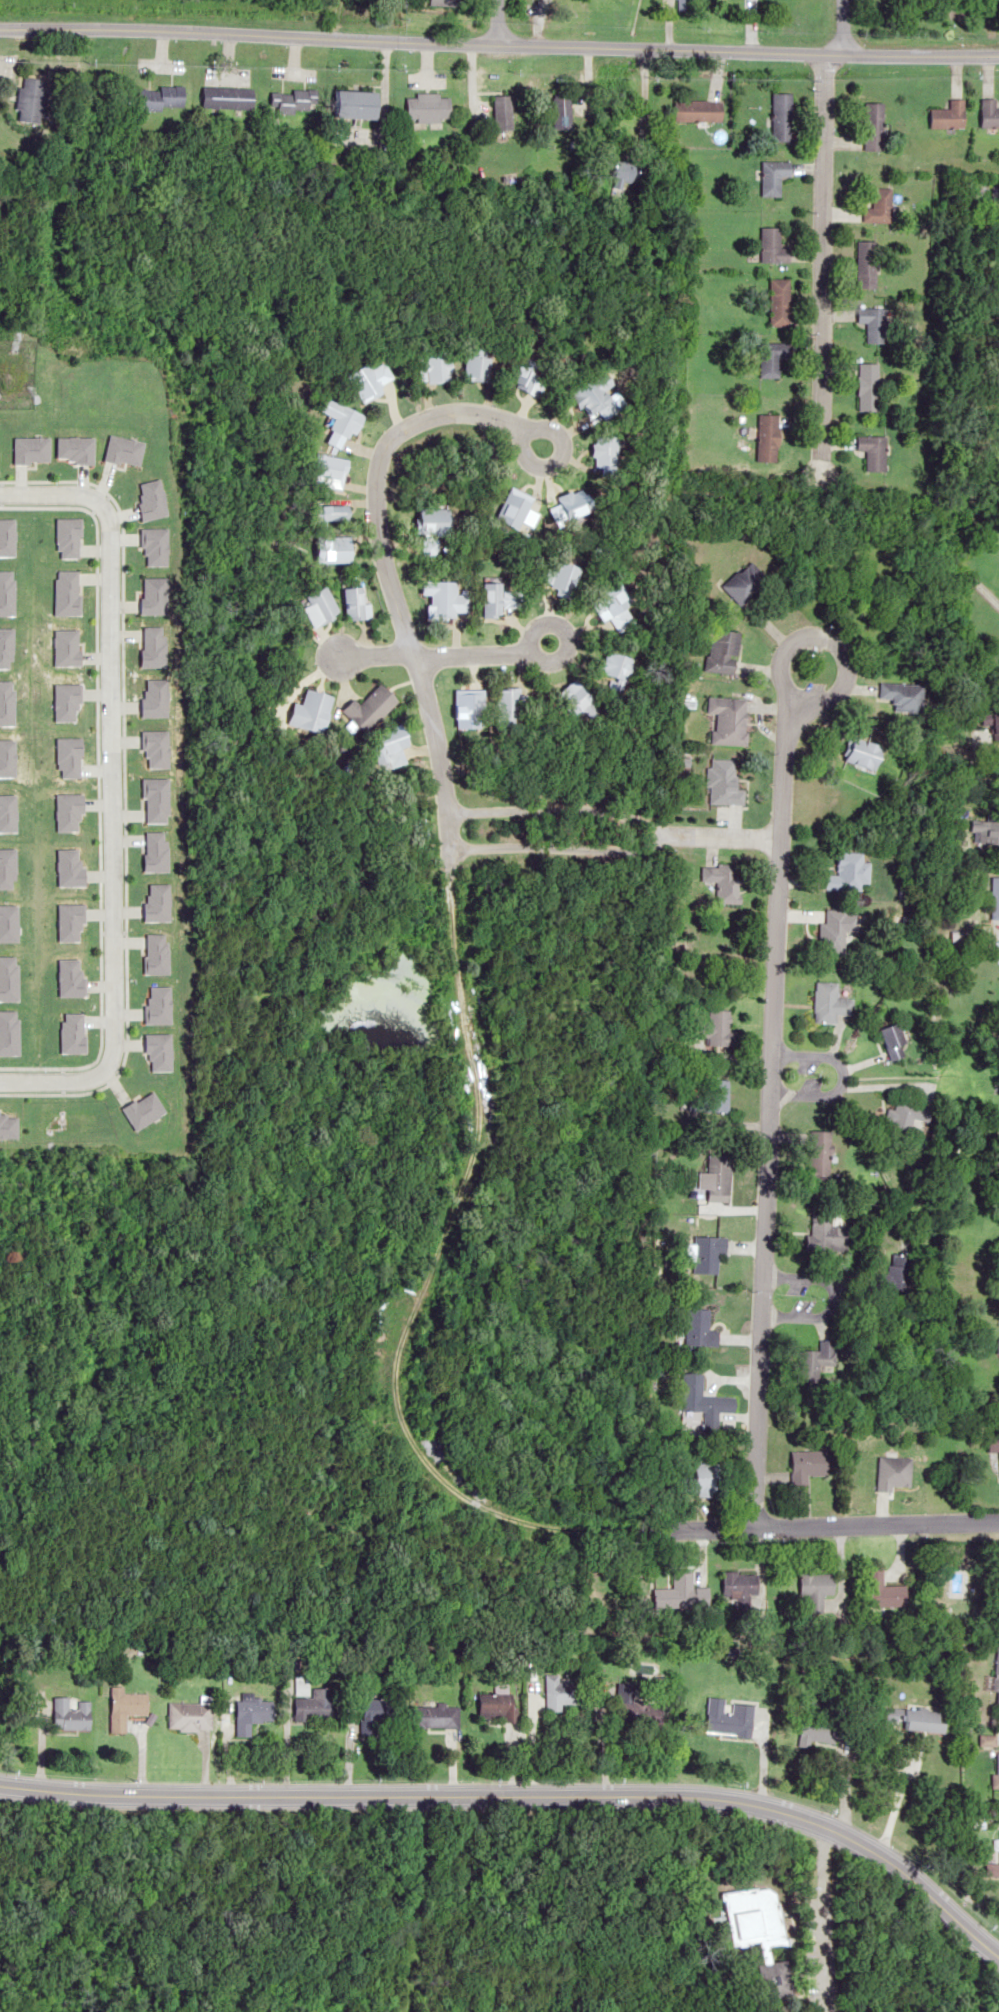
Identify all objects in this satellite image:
building: (444, 3)
building: (684, 6)
road: (495, 22)
road: (839, 27)
road: (499, 45)
building: (159, 98)
building: (227, 98)
building: (30, 99)
building: (292, 101)
building: (356, 104)
building: (427, 107)
building: (561, 110)
building: (697, 111)
building: (501, 112)
building: (988, 114)
building: (947, 115)
building: (781, 116)
building: (872, 126)
building: (773, 176)
building: (876, 206)
building: (772, 246)
road: (820, 256)
building: (863, 263)
building: (779, 302)
building: (871, 323)
building: (772, 357)
building: (867, 386)
building: (768, 437)
building: (873, 452)
road: (558, 457)
building: (745, 582)
building: (354, 603)
building: (320, 607)
road: (828, 641)
building: (724, 652)
road: (434, 656)
road: (552, 659)
building: (619, 665)
building: (904, 696)
building: (371, 707)
building: (508, 708)
building: (313, 711)
building: (730, 720)
building: (992, 725)
road: (431, 729)
building: (866, 753)
building: (724, 784)
road: (560, 807)
building: (852, 872)
building: (722, 883)
building: (996, 898)
building: (835, 929)
building: (827, 1003)
building: (713, 1028)
building: (892, 1041)
road: (838, 1077)
building: (713, 1096)
road: (765, 1113)
building: (904, 1115)
building: (818, 1143)
building: (715, 1178)
building: (826, 1234)
building: (701, 1255)
building: (894, 1271)
road: (828, 1297)
building: (699, 1328)
building: (996, 1346)
building: (807, 1365)
building: (702, 1400)
building: (993, 1442)
building: (807, 1466)
building: (705, 1480)
road: (796, 1526)
building: (812, 1583)
building: (738, 1587)
building: (875, 1590)
building: (676, 1592)
building: (996, 1672)
building: (558, 1693)
building: (626, 1700)
building: (312, 1705)
building: (123, 1708)
building: (495, 1711)
building: (69, 1712)
building: (250, 1712)
building: (187, 1715)
building: (375, 1716)
building: (431, 1716)
building: (726, 1719)
building: (913, 1719)
building: (839, 1730)
building: (985, 1740)
building: (995, 1770)
road: (522, 1780)
road: (524, 1796)
building: (991, 1869)
building: (755, 1924)

